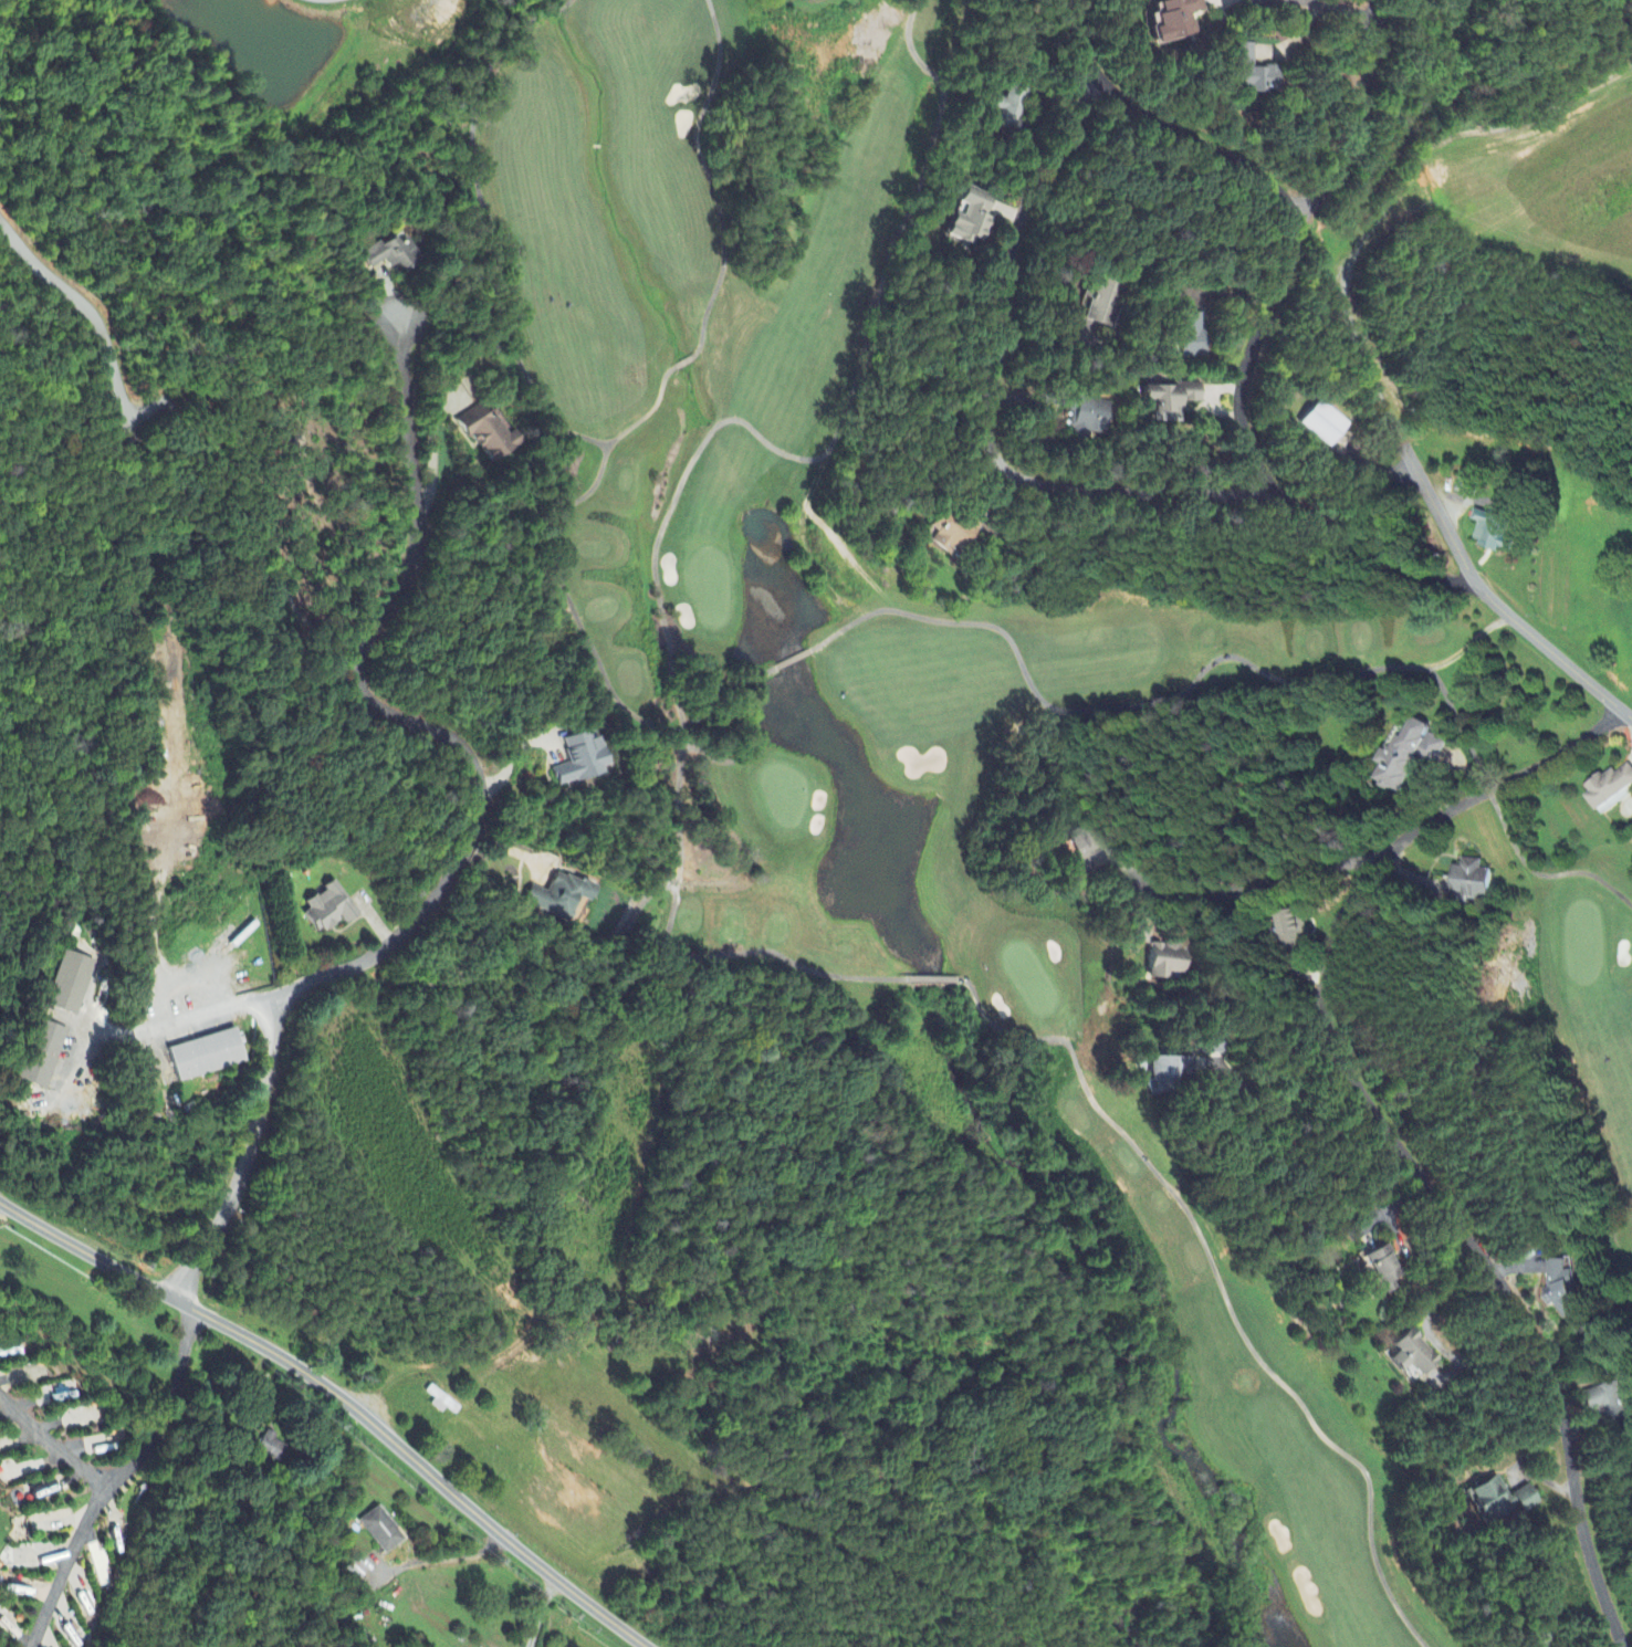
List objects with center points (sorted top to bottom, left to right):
building: (1175, 20)
building: (1252, 73)
road: (1369, 88)
building: (1012, 105)
building: (970, 220)
building: (393, 254)
road: (1354, 256)
building: (1098, 313)
road: (93, 316)
building: (1192, 336)
road: (990, 401)
building: (1171, 401)
road: (1241, 405)
building: (1087, 418)
building: (1325, 424)
building: (489, 433)
building: (1467, 485)
building: (952, 531)
building: (1493, 532)
road: (1199, 673)
road: (1440, 685)
building: (1408, 756)
building: (580, 759)
building: (1610, 788)
road: (477, 827)
building: (1087, 848)
park: (1100, 857)
building: (1469, 880)
road: (1264, 883)
building: (559, 898)
building: (329, 909)
building: (1295, 929)
building: (1141, 935)
building: (1165, 961)
building: (70, 985)
road: (1283, 1013)
road: (165, 1027)
building: (1214, 1046)
building: (42, 1056)
building: (206, 1056)
building: (1170, 1073)
road: (1385, 1120)
building: (1385, 1269)
building: (1562, 1288)
building: (1413, 1355)
road: (347, 1402)
building: (1608, 1402)
building: (443, 1405)
road: (170, 1406)
building: (271, 1448)
building: (1500, 1500)
road: (103, 1501)
building: (379, 1531)
road: (447, 1563)

